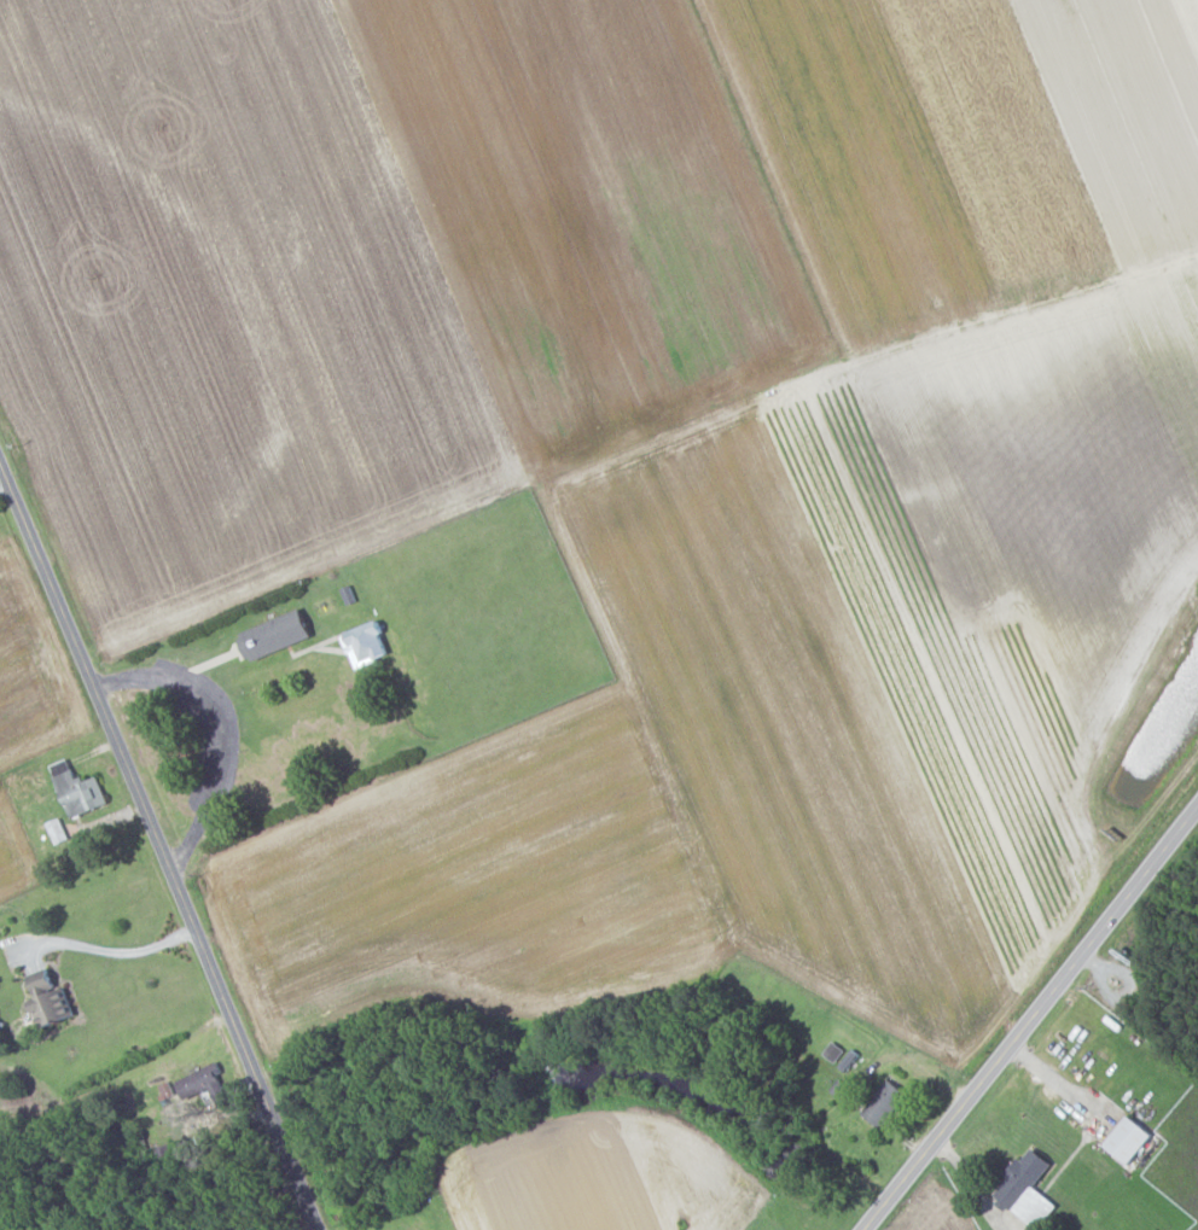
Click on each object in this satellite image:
building: (277, 633)
building: (365, 642)
road: (223, 728)
road: (157, 852)
road: (111, 950)
building: (48, 999)
road: (1031, 1018)
road: (120, 1084)
building: (885, 1102)
building: (1128, 1138)
building: (1027, 1188)

